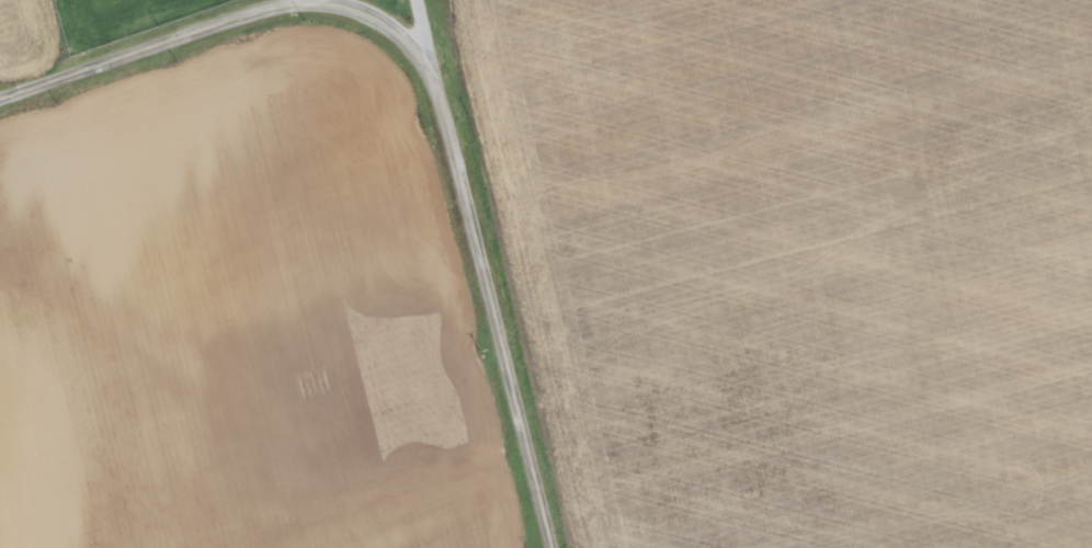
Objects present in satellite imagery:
road: (417, 33)
road: (429, 81)

